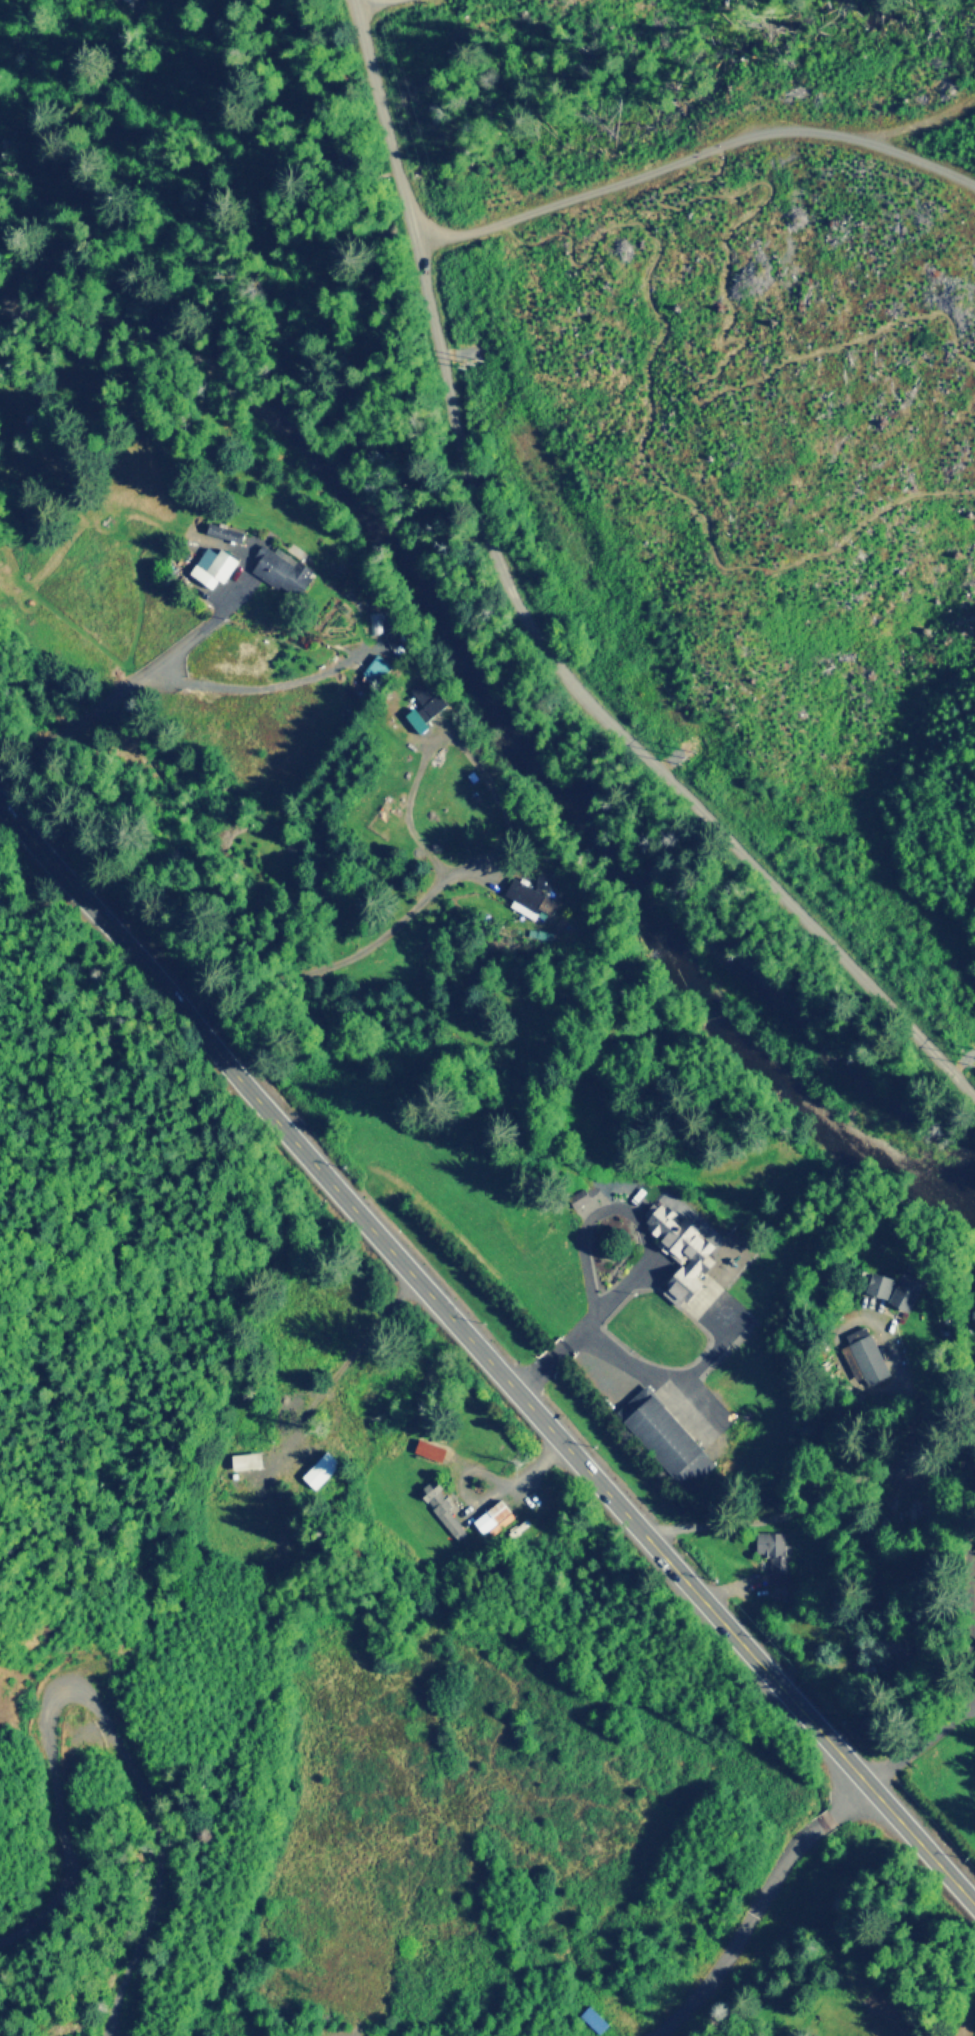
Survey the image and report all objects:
road: (363, 2)
road: (193, 64)
road: (914, 123)
road: (698, 153)
road: (23, 248)
road: (47, 256)
road: (741, 339)
road: (644, 439)
building: (224, 531)
building: (212, 565)
building: (281, 570)
road: (533, 622)
building: (373, 669)
building: (423, 705)
river: (495, 708)
building: (531, 894)
building: (681, 1250)
building: (894, 1286)
building: (973, 1312)
building: (863, 1354)
road: (485, 1358)
building: (665, 1436)
building: (429, 1448)
building: (245, 1459)
building: (319, 1468)
building: (441, 1506)
building: (494, 1516)
building: (772, 1550)
road: (973, 1612)
quarry: (61, 1673)
road: (124, 1741)
road: (922, 1741)
road: (756, 1904)
building: (593, 2018)
quarry: (431, 2029)

